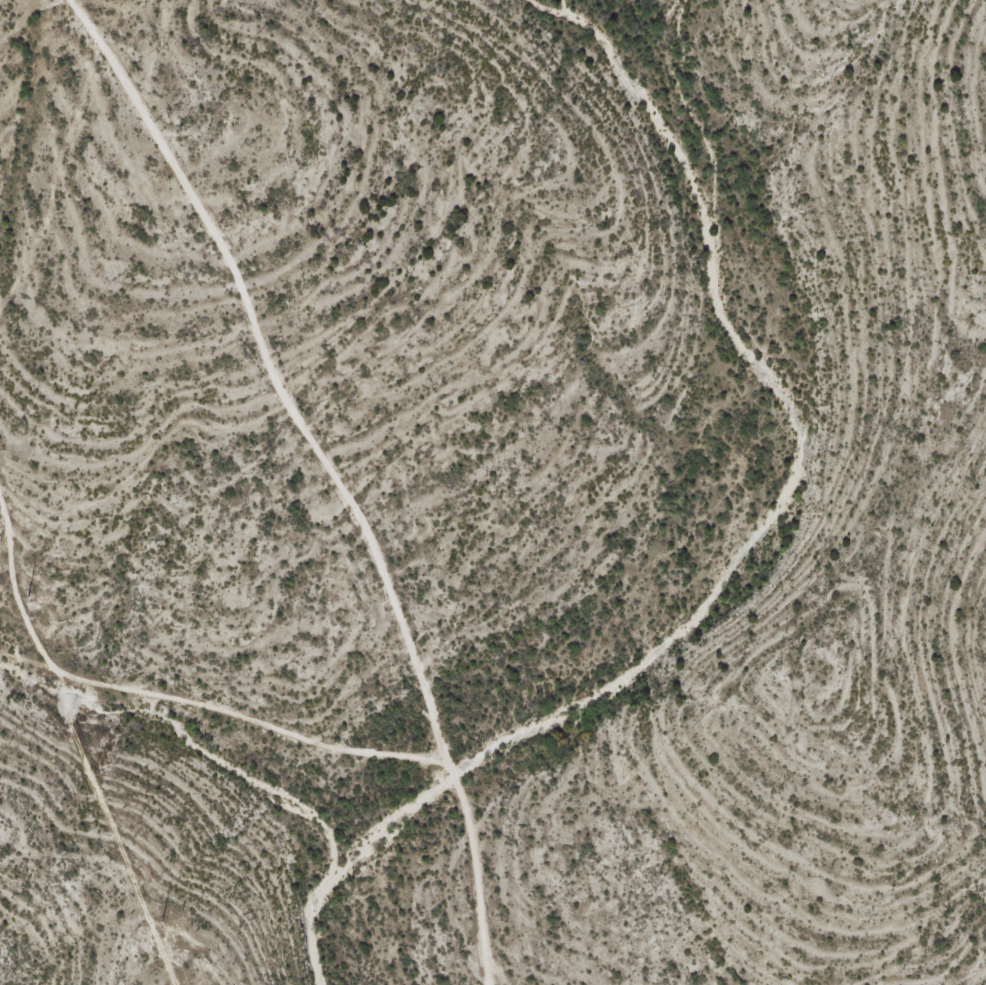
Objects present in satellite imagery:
road: (339, 472)
power tower: (27, 599)
power tower: (162, 917)

